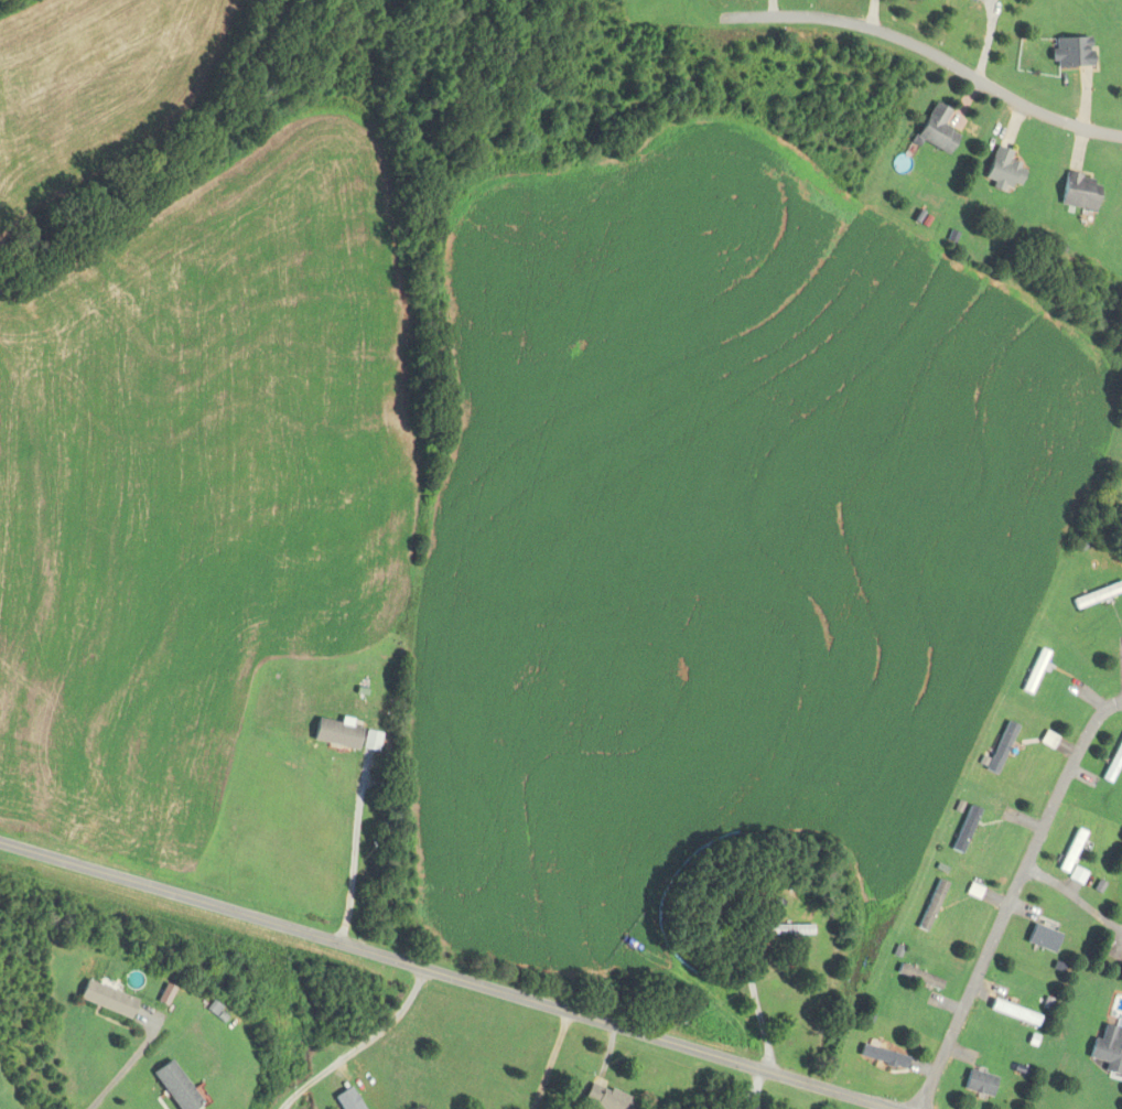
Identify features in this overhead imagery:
road: (934, 50)
building: (1069, 51)
crop: (95, 75)
building: (935, 129)
building: (1001, 170)
building: (1077, 191)
crop: (524, 548)
building: (1097, 595)
building: (1034, 671)
building: (963, 829)
road: (363, 849)
building: (1070, 851)
building: (1077, 875)
road: (1076, 897)
road: (1013, 901)
building: (930, 905)
building: (784, 929)
building: (1044, 940)
building: (917, 977)
road: (445, 979)
building: (105, 1000)
road: (753, 1000)
building: (1013, 1013)
road: (359, 1046)
building: (1108, 1049)
building: (882, 1057)
road: (551, 1060)
road: (126, 1065)
building: (979, 1084)
building: (174, 1087)
building: (603, 1098)
building: (347, 1099)

